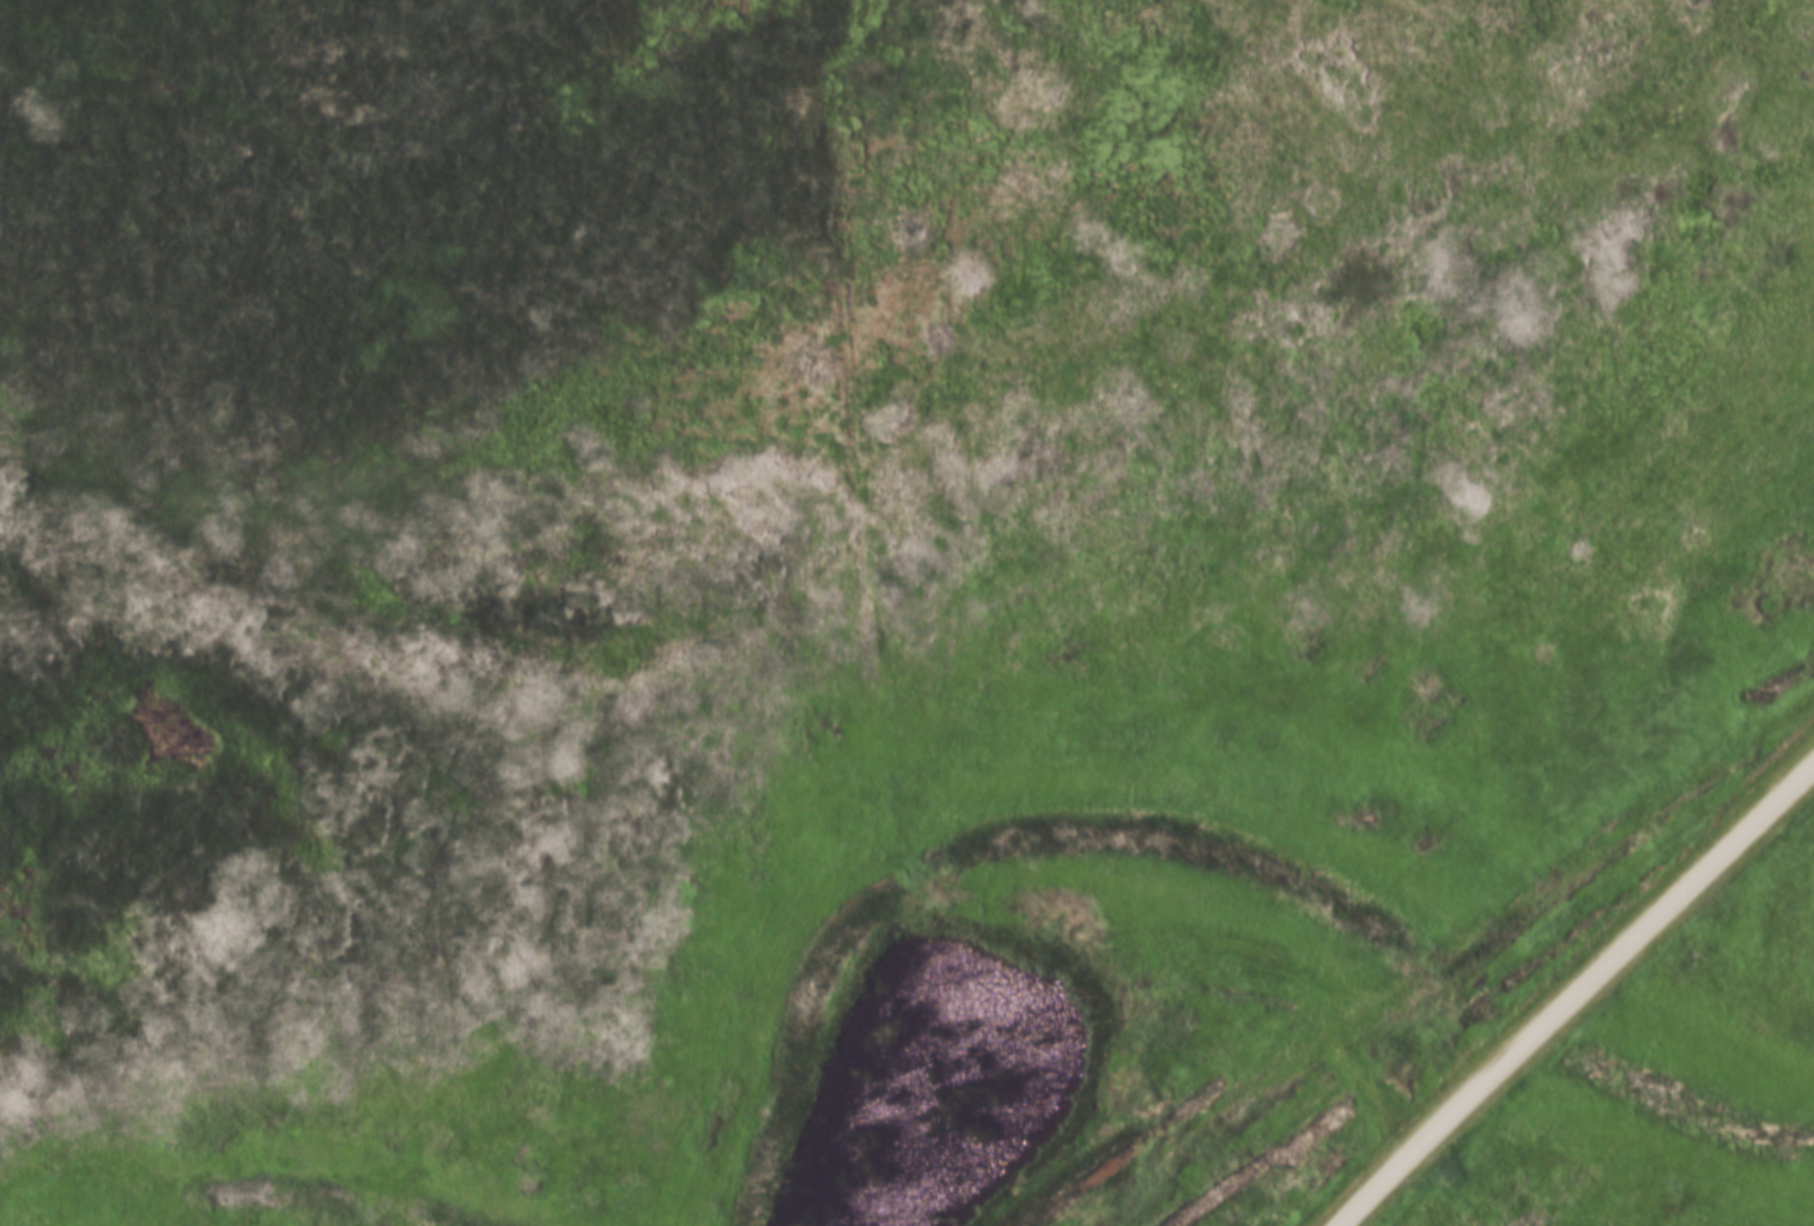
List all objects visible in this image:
road: (1572, 993)

